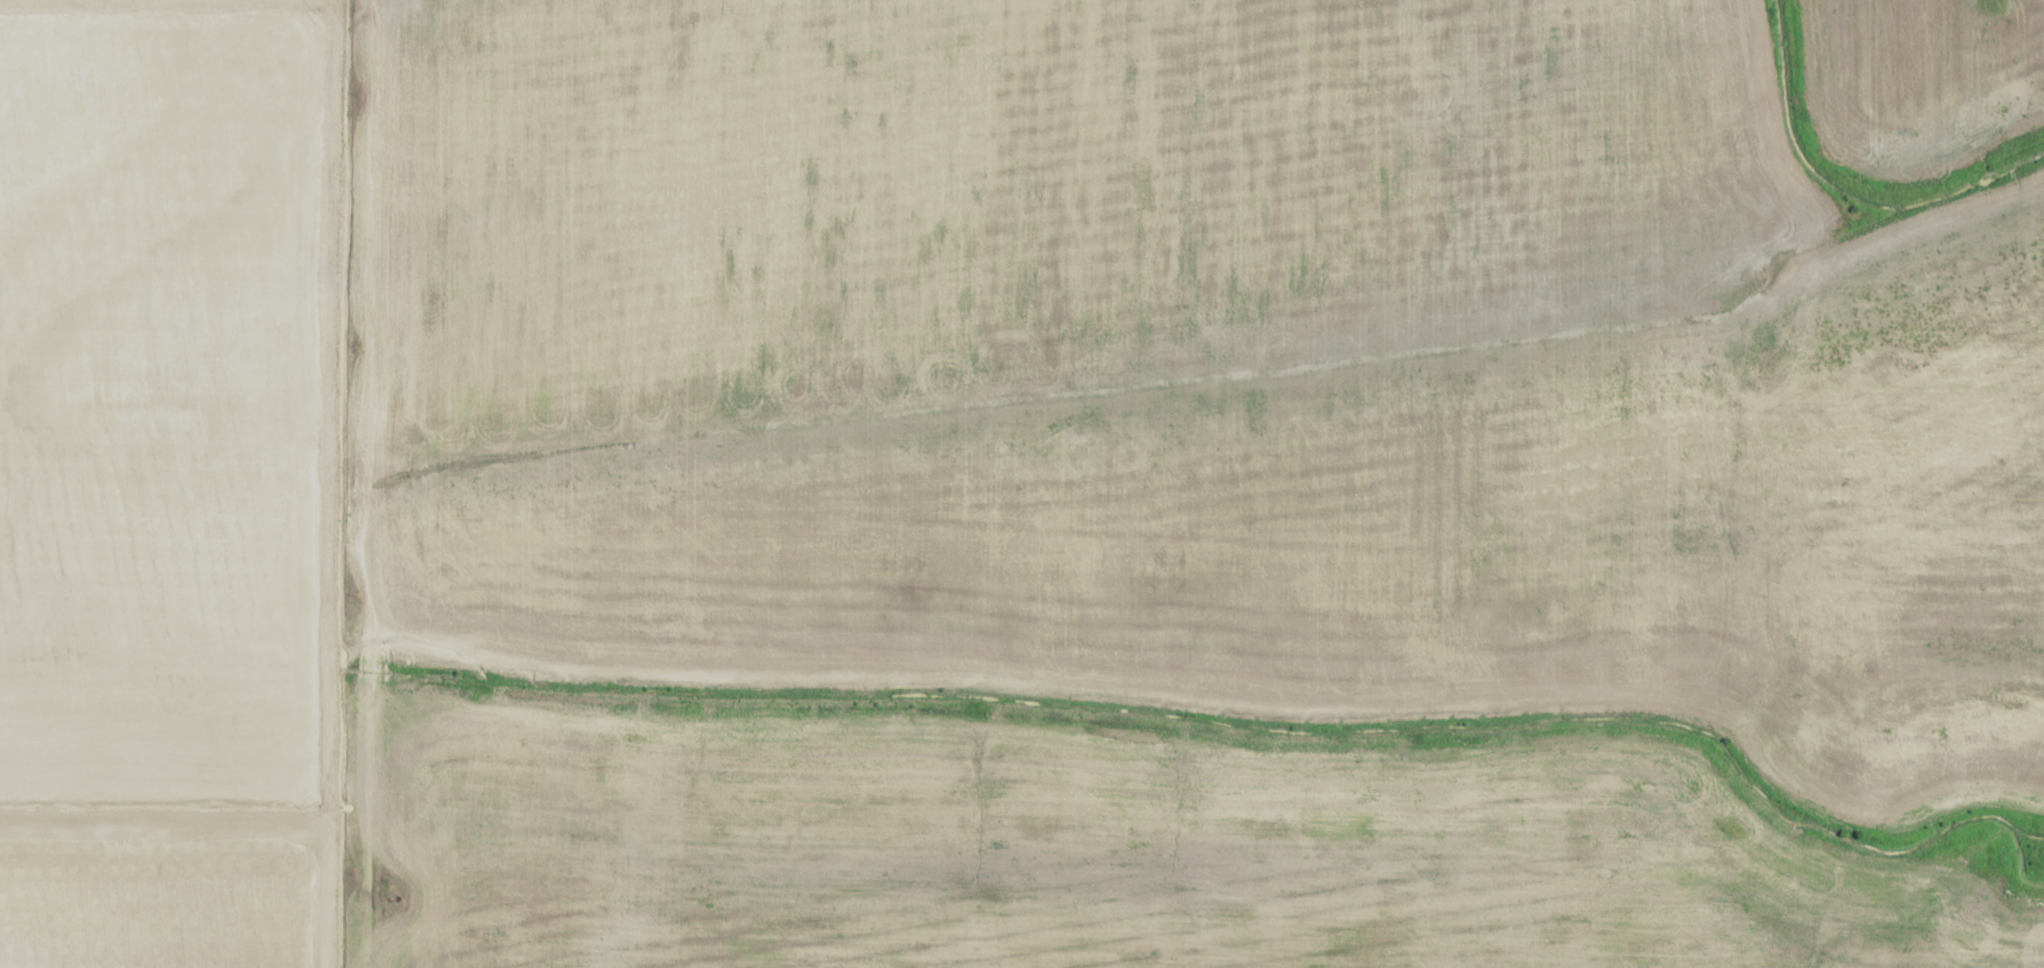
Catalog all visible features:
road: (362, 483)

